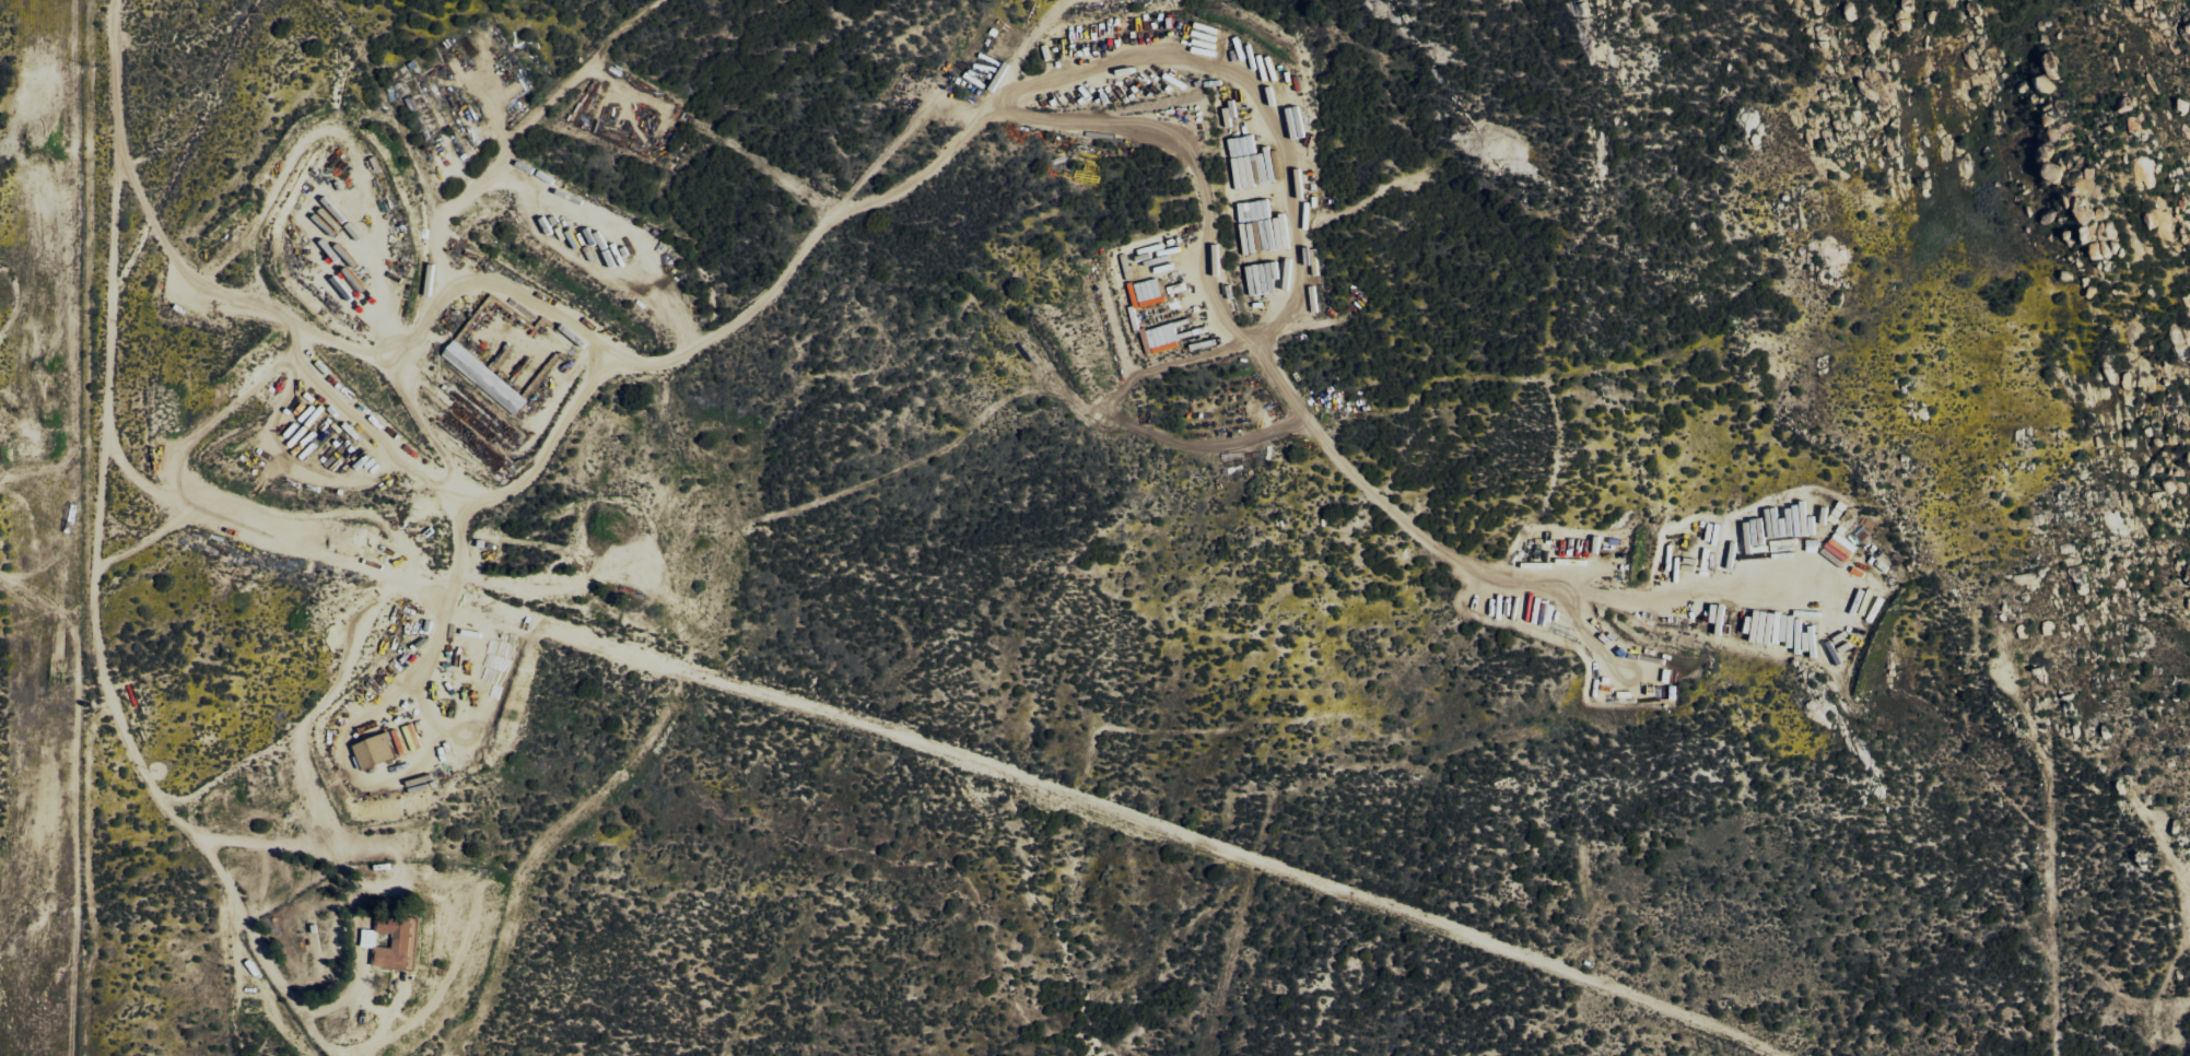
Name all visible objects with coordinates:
building: (1159, 338)
building: (485, 377)
building: (375, 750)
building: (391, 941)

